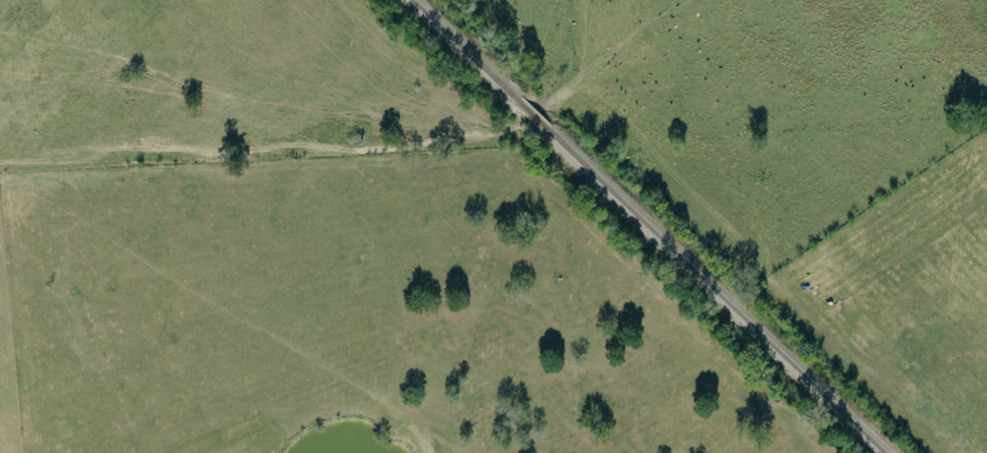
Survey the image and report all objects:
railway: (463, 49)
railway: (531, 114)
railway: (715, 292)

